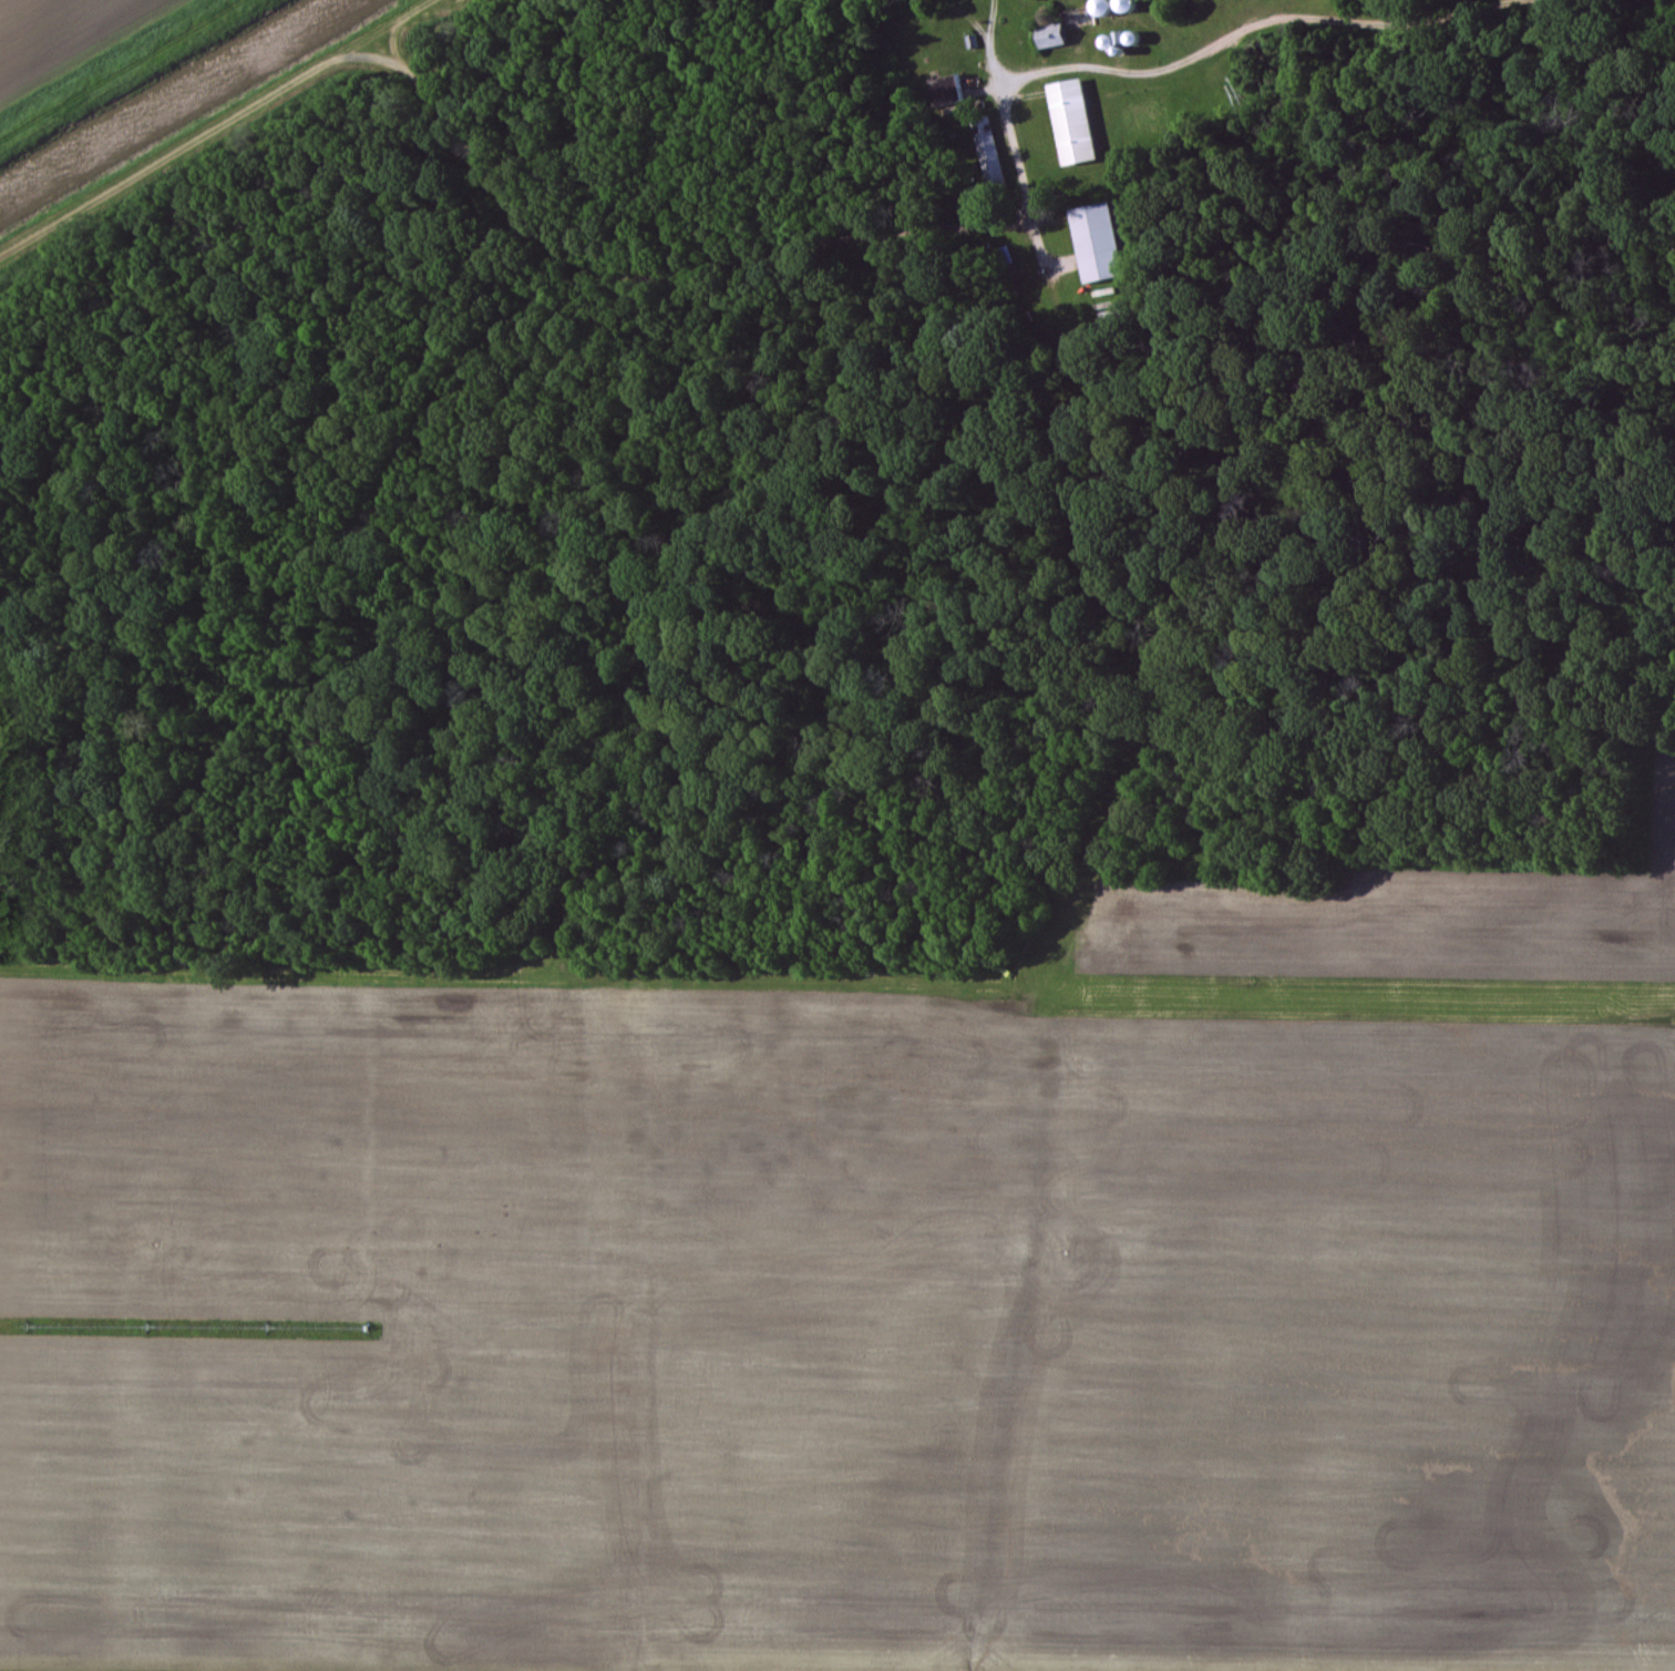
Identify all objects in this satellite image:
building: (1054, 32)
road: (990, 43)
building: (952, 92)
building: (1073, 121)
building: (991, 156)
road: (842, 242)
building: (1098, 242)

